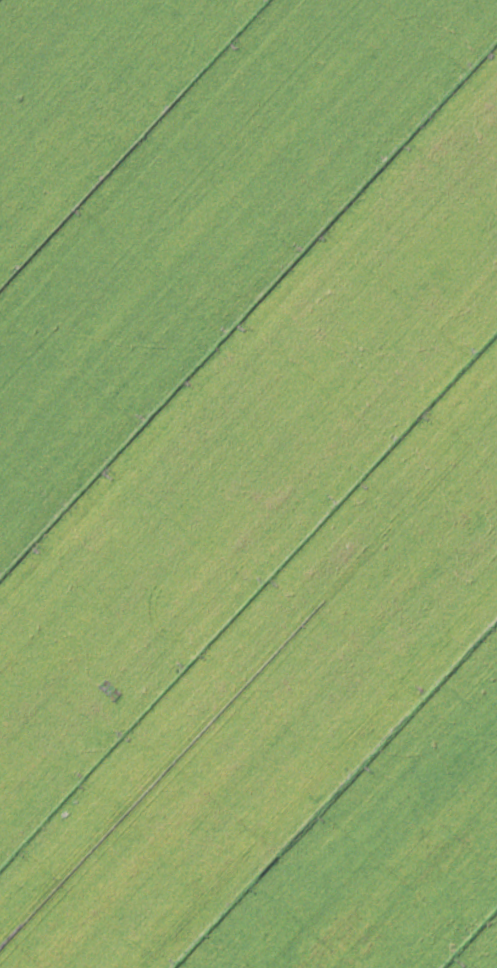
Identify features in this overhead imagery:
crop: (248, 484)

